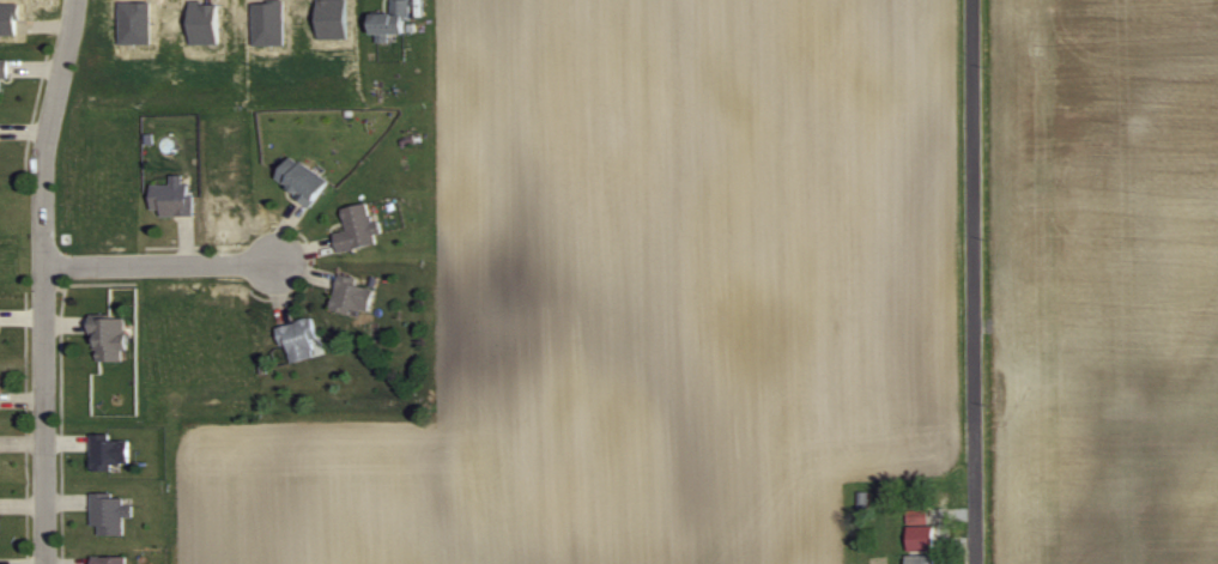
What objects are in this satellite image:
building: (395, 19)
building: (5, 69)
building: (305, 178)
building: (175, 195)
building: (359, 226)
road: (159, 263)
road: (42, 279)
road: (976, 281)
building: (356, 293)
building: (111, 336)
building: (302, 338)
building: (113, 449)
building: (111, 511)
building: (922, 536)
building: (111, 559)

